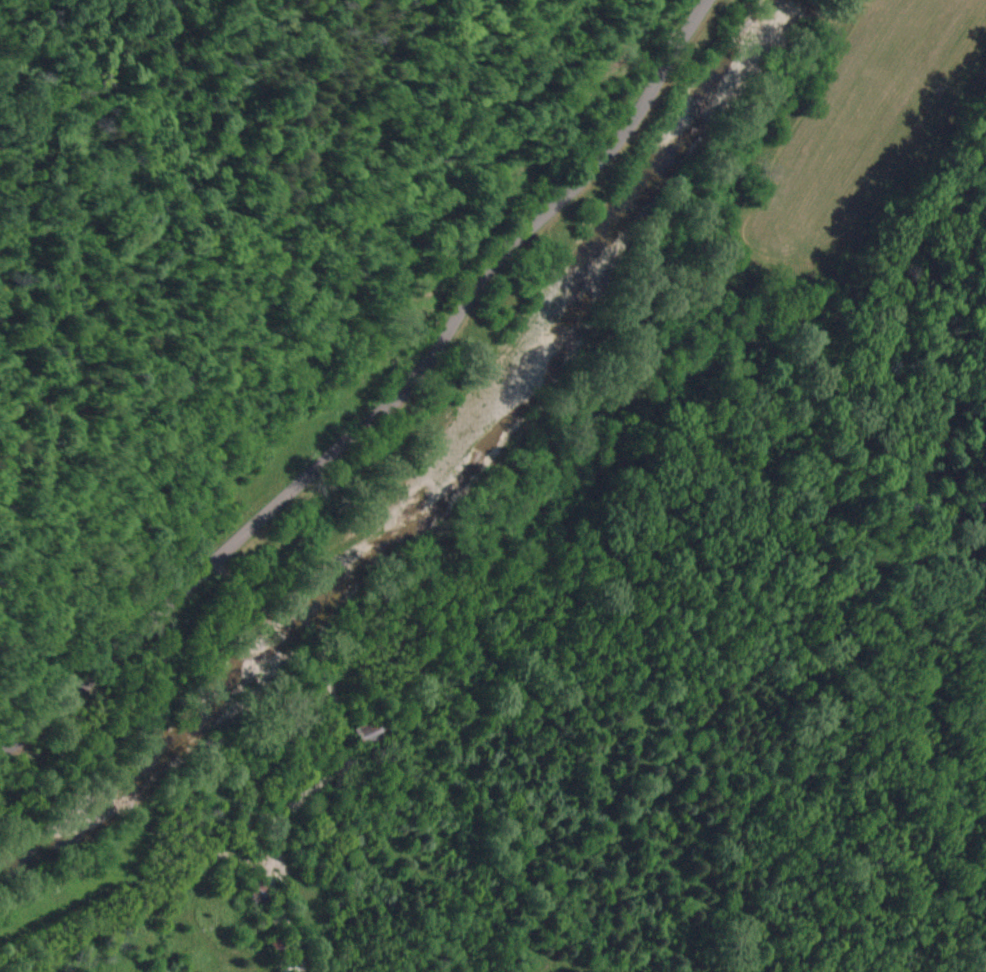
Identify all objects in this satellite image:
road: (371, 393)
road: (231, 608)

